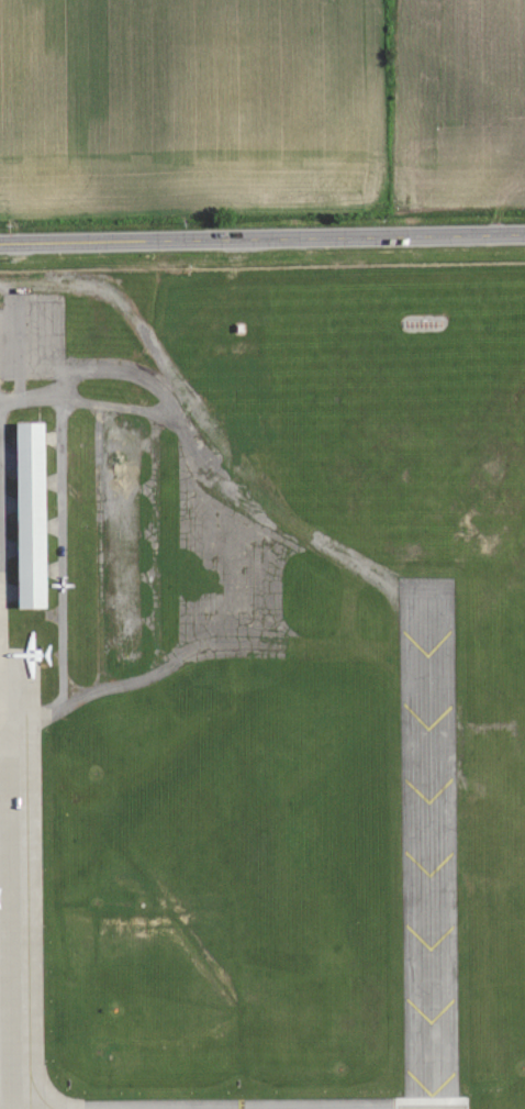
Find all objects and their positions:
road: (262, 248)
building: (32, 514)
airport taxiway: (282, 523)
airport taxiway: (210, 650)
airport: (262, 688)
airport taxiway: (431, 844)

